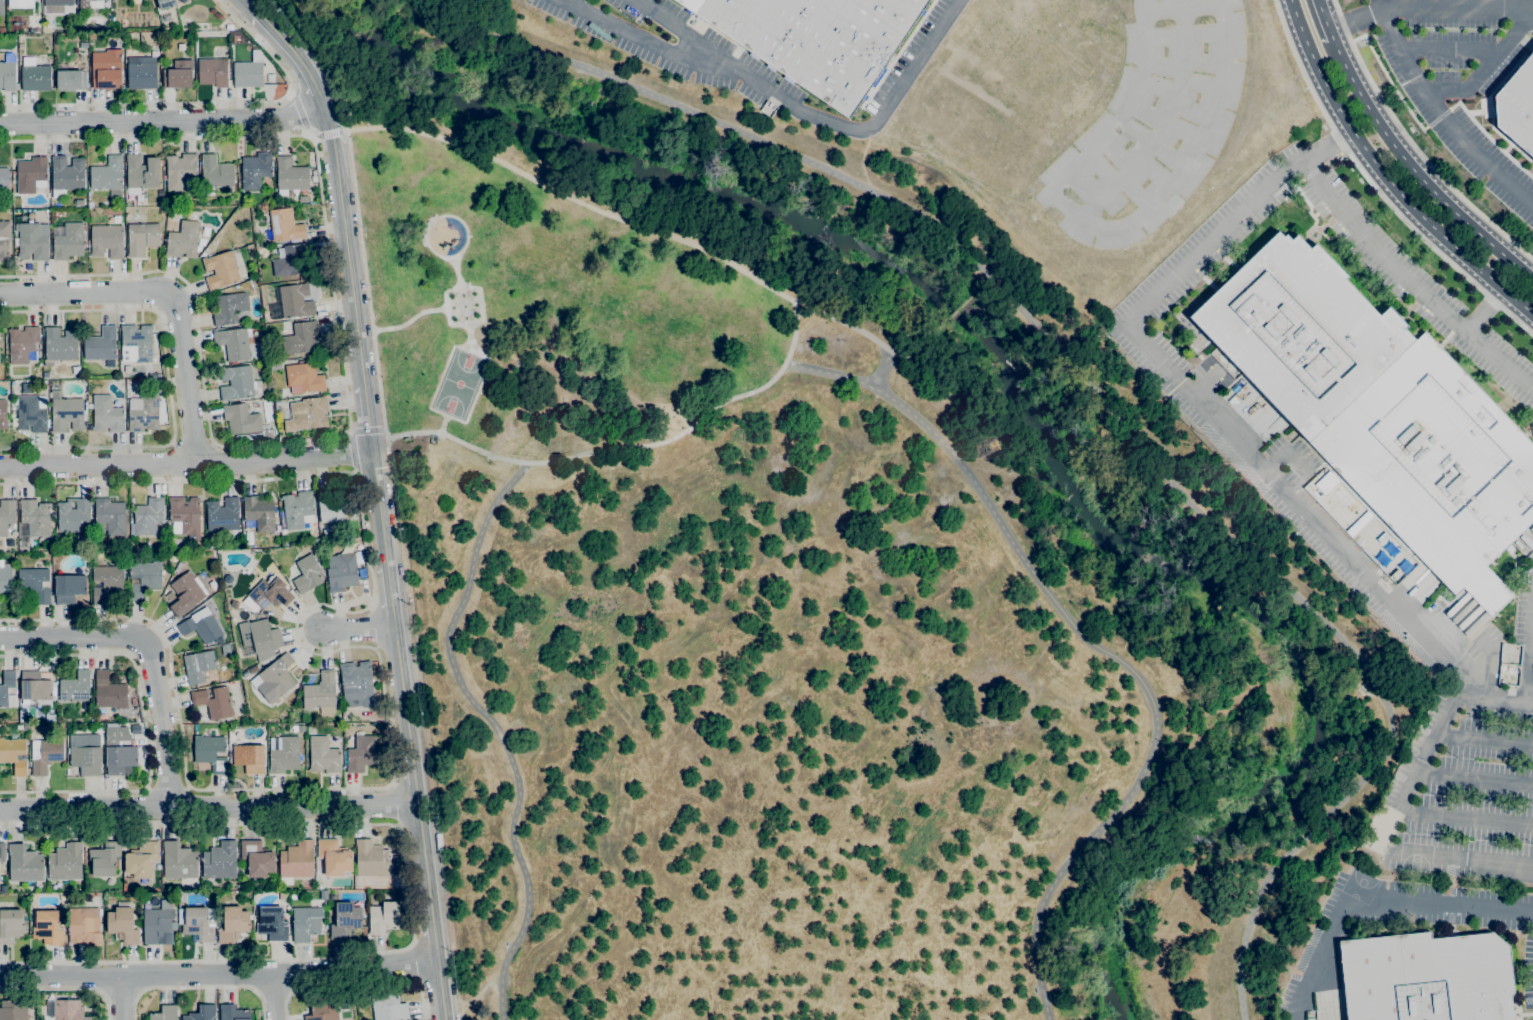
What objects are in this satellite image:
building: (137, 1)
road: (1421, 3)
building: (90, 4)
building: (166, 4)
building: (55, 5)
road: (1379, 5)
road: (1429, 6)
building: (1, 7)
road: (258, 13)
road: (1325, 19)
building: (2, 30)
building: (816, 39)
road: (645, 43)
road: (1454, 50)
road: (303, 66)
building: (106, 69)
road: (1486, 70)
building: (7, 72)
building: (213, 72)
building: (142, 74)
building: (247, 74)
building: (34, 75)
building: (179, 75)
building: (71, 80)
road: (292, 90)
road: (201, 102)
building: (1517, 106)
road: (305, 114)
road: (163, 117)
road: (816, 118)
road: (1444, 119)
road: (332, 132)
road: (1414, 144)
building: (255, 170)
building: (179, 171)
building: (215, 172)
road: (1418, 172)
building: (14, 173)
building: (141, 173)
building: (31, 174)
building: (66, 174)
building: (108, 176)
building: (290, 176)
road: (1386, 176)
building: (4, 178)
road: (1375, 188)
building: (299, 202)
building: (263, 207)
road: (453, 217)
building: (284, 225)
road: (644, 226)
building: (142, 237)
building: (4, 239)
building: (68, 240)
building: (183, 240)
building: (106, 241)
building: (31, 242)
road: (346, 246)
building: (289, 260)
building: (220, 270)
road: (991, 276)
road: (1412, 281)
road: (454, 288)
road: (367, 289)
road: (174, 292)
building: (295, 300)
building: (230, 309)
road: (801, 309)
road: (1485, 312)
road: (955, 313)
road: (792, 333)
building: (300, 338)
building: (22, 343)
building: (136, 343)
building: (60, 344)
building: (233, 344)
building: (100, 345)
road: (343, 369)
road: (830, 372)
building: (303, 378)
building: (238, 383)
park: (457, 383)
road: (168, 384)
road: (1104, 399)
road: (432, 410)
building: (1379, 410)
building: (66, 413)
building: (143, 413)
building: (3, 414)
building: (30, 414)
building: (307, 414)
road: (367, 414)
building: (106, 415)
building: (243, 420)
river: (1030, 421)
road: (442, 423)
road: (366, 431)
road: (192, 442)
road: (352, 451)
road: (593, 453)
road: (186, 465)
building: (333, 506)
road: (379, 507)
building: (297, 509)
building: (258, 514)
building: (6, 515)
building: (73, 515)
building: (110, 515)
building: (222, 515)
building: (148, 516)
building: (185, 516)
building: (34, 518)
road: (1311, 521)
building: (1531, 529)
building: (1526, 541)
building: (1517, 544)
building: (348, 547)
building: (173, 556)
building: (341, 571)
building: (307, 574)
building: (144, 578)
building: (5, 579)
building: (106, 581)
building: (35, 584)
building: (68, 588)
building: (185, 594)
building: (267, 594)
road: (390, 597)
park: (736, 610)
building: (201, 628)
road: (355, 629)
building: (258, 637)
road: (369, 648)
road: (148, 650)
road: (1119, 661)
road: (398, 664)
building: (198, 666)
road: (1530, 672)
building: (275, 678)
building: (356, 684)
building: (34, 686)
building: (75, 687)
building: (3, 692)
building: (321, 693)
building: (108, 694)
road: (1496, 696)
building: (213, 702)
building: (135, 729)
road: (146, 730)
building: (348, 730)
road: (495, 730)
building: (116, 733)
road: (1485, 737)
building: (210, 752)
road: (409, 752)
building: (284, 753)
building: (360, 753)
building: (44, 755)
building: (323, 755)
building: (14, 756)
building: (249, 758)
building: (119, 759)
building: (85, 760)
road: (1474, 778)
road: (167, 787)
road: (393, 804)
road: (208, 808)
road: (1464, 817)
road: (422, 848)
building: (2, 852)
building: (334, 857)
building: (257, 858)
building: (105, 859)
building: (141, 859)
building: (371, 859)
building: (178, 861)
building: (219, 861)
building: (296, 861)
building: (65, 862)
building: (25, 864)
building: (396, 882)
road: (408, 892)
building: (323, 894)
building: (283, 896)
building: (224, 898)
road: (1374, 902)
building: (384, 917)
building: (345, 921)
building: (197, 922)
building: (122, 923)
building: (271, 923)
building: (305, 923)
building: (82, 924)
building: (232, 924)
road: (432, 925)
building: (10, 926)
building: (157, 926)
building: (47, 928)
building: (236, 936)
road: (414, 960)
road: (218, 974)
building: (1426, 978)
road: (358, 981)
road: (198, 987)
road: (65, 988)
road: (440, 989)
road: (121, 996)
road: (121, 997)
road: (272, 997)
building: (388, 1006)
building: (65, 1009)
building: (13, 1010)
building: (323, 1010)
building: (233, 1012)
building: (165, 1013)
building: (202, 1013)

